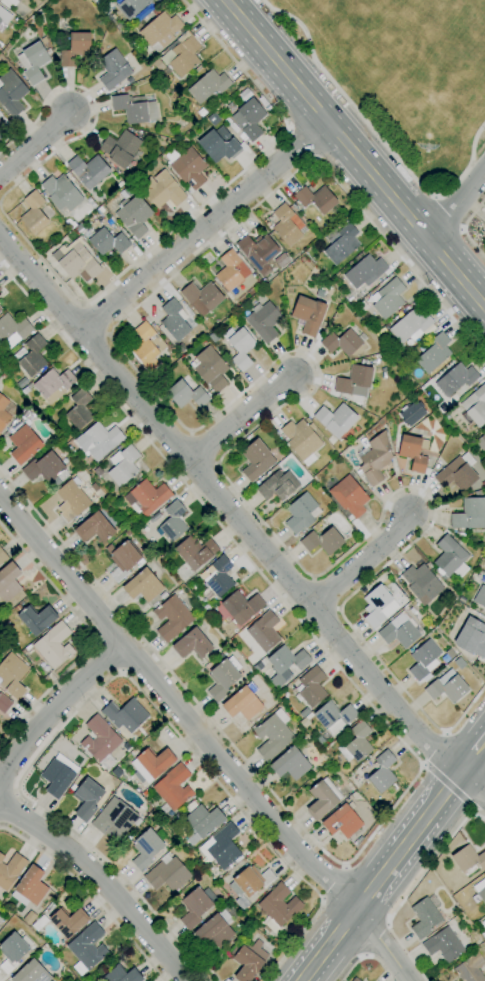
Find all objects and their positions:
building: (18, 0)
building: (131, 7)
building: (4, 16)
building: (1, 26)
building: (160, 30)
building: (75, 49)
building: (178, 56)
building: (34, 62)
building: (113, 69)
park: (403, 73)
building: (208, 86)
building: (11, 93)
building: (245, 95)
road: (93, 108)
building: (130, 108)
building: (213, 119)
building: (248, 119)
road: (288, 130)
road: (375, 134)
building: (1, 135)
road: (34, 143)
road: (302, 143)
building: (219, 145)
building: (120, 148)
road: (355, 154)
road: (313, 158)
building: (189, 168)
building: (88, 170)
building: (128, 190)
building: (162, 190)
building: (61, 192)
road: (434, 197)
building: (316, 198)
road: (456, 204)
road: (201, 205)
building: (33, 212)
road: (445, 214)
building: (133, 215)
building: (484, 224)
building: (286, 225)
road: (203, 226)
road: (464, 228)
road: (461, 230)
building: (484, 241)
building: (108, 242)
building: (342, 244)
building: (261, 253)
building: (73, 263)
building: (228, 271)
building: (365, 271)
building: (201, 297)
building: (387, 298)
road: (81, 304)
building: (0, 308)
building: (308, 314)
road: (91, 320)
building: (173, 321)
building: (263, 322)
building: (410, 326)
building: (12, 330)
road: (106, 334)
building: (343, 342)
building: (147, 347)
building: (240, 348)
building: (433, 353)
building: (31, 356)
building: (210, 369)
road: (316, 370)
building: (354, 379)
building: (455, 379)
building: (54, 384)
building: (186, 395)
building: (474, 407)
building: (79, 409)
building: (3, 413)
building: (412, 413)
road: (239, 417)
building: (336, 421)
road: (190, 433)
building: (98, 440)
building: (301, 440)
building: (23, 444)
building: (482, 444)
road: (201, 450)
building: (413, 452)
building: (374, 459)
building: (256, 460)
road: (215, 464)
building: (122, 465)
building: (43, 468)
building: (457, 473)
building: (277, 485)
building: (149, 496)
building: (348, 496)
building: (71, 501)
building: (301, 513)
building: (469, 514)
road: (237, 519)
building: (173, 521)
building: (95, 526)
building: (322, 541)
building: (194, 551)
building: (2, 556)
building: (449, 558)
building: (123, 559)
road: (361, 561)
building: (216, 578)
road: (312, 578)
building: (8, 582)
building: (421, 583)
building: (142, 586)
road: (323, 594)
building: (480, 596)
building: (379, 606)
building: (241, 607)
road: (337, 609)
building: (171, 618)
building: (36, 619)
building: (400, 630)
building: (263, 631)
road: (92, 638)
building: (471, 638)
building: (191, 644)
building: (54, 645)
road: (107, 657)
building: (423, 660)
building: (285, 665)
building: (258, 667)
building: (12, 675)
building: (223, 678)
road: (107, 681)
building: (310, 687)
building: (446, 687)
building: (4, 703)
building: (242, 704)
road: (176, 705)
road: (54, 707)
building: (125, 715)
building: (334, 717)
road: (443, 733)
building: (272, 735)
building: (99, 739)
building: (357, 743)
road: (434, 750)
road: (472, 752)
building: (151, 763)
building: (289, 764)
road: (419, 765)
road: (422, 765)
building: (382, 772)
building: (58, 775)
road: (448, 786)
building: (173, 787)
road: (478, 797)
building: (322, 798)
building: (86, 799)
road: (434, 804)
road: (473, 810)
building: (113, 819)
building: (341, 821)
building: (202, 822)
building: (221, 847)
building: (146, 848)
building: (1, 857)
building: (466, 862)
building: (11, 871)
road: (383, 873)
building: (167, 876)
building: (484, 876)
road: (104, 878)
road: (330, 878)
building: (249, 881)
building: (29, 887)
road: (411, 888)
building: (480, 890)
road: (90, 894)
building: (195, 906)
building: (278, 907)
building: (424, 918)
building: (0, 919)
building: (484, 919)
building: (63, 922)
building: (216, 927)
road: (332, 940)
road: (377, 940)
building: (446, 943)
road: (382, 944)
building: (87, 948)
building: (13, 951)
road: (367, 956)
building: (249, 960)
building: (470, 968)
building: (31, 973)
building: (121, 975)
road: (303, 977)
building: (354, 979)

